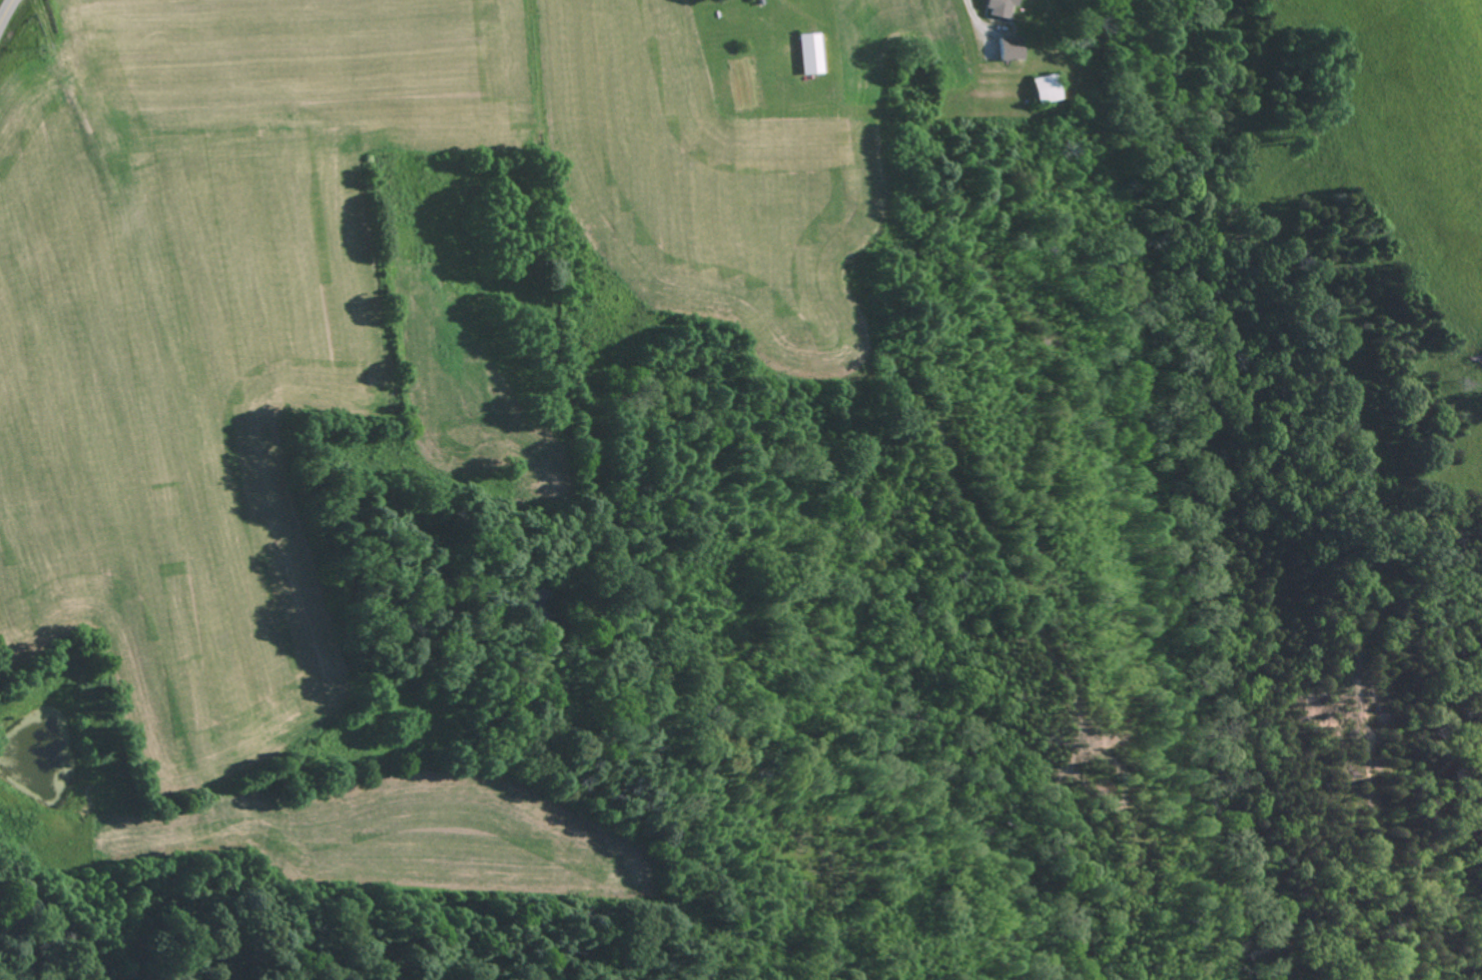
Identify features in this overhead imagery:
building: (1001, 7)
road: (6, 12)
building: (1009, 48)
building: (810, 53)
building: (1045, 88)

